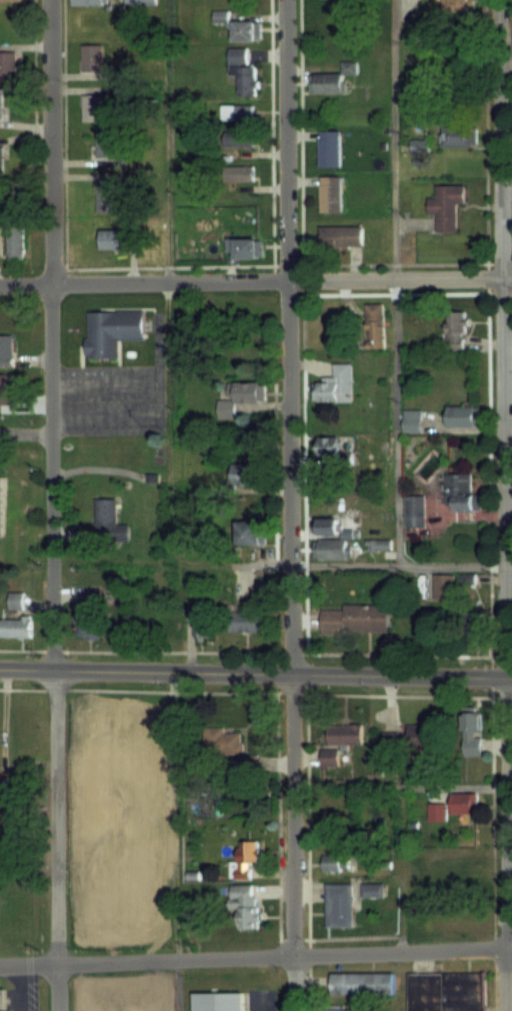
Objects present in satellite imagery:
building: (10, 0)
building: (141, 1)
building: (87, 2)
building: (457, 6)
building: (220, 16)
building: (247, 29)
building: (92, 57)
building: (7, 64)
building: (244, 70)
building: (326, 82)
road: (32, 85)
building: (1, 102)
building: (93, 107)
building: (237, 112)
road: (270, 132)
building: (454, 134)
building: (107, 140)
building: (330, 147)
building: (2, 153)
building: (241, 166)
building: (331, 193)
building: (108, 195)
building: (448, 205)
building: (342, 235)
building: (15, 237)
building: (114, 238)
building: (246, 247)
road: (153, 266)
road: (255, 280)
road: (396, 282)
building: (375, 324)
road: (299, 326)
road: (485, 327)
building: (109, 329)
building: (457, 329)
building: (6, 349)
building: (336, 384)
building: (6, 389)
parking lot: (112, 394)
building: (240, 398)
road: (159, 399)
building: (464, 415)
building: (413, 421)
road: (26, 433)
building: (329, 445)
road: (169, 451)
building: (249, 473)
building: (324, 480)
building: (462, 492)
building: (0, 494)
road: (52, 505)
road: (288, 505)
road: (503, 505)
building: (415, 510)
building: (109, 520)
building: (252, 532)
building: (334, 538)
building: (468, 582)
building: (16, 599)
building: (89, 614)
building: (357, 618)
building: (243, 621)
building: (473, 624)
building: (205, 625)
building: (16, 627)
road: (256, 652)
road: (255, 673)
road: (256, 690)
building: (472, 730)
building: (345, 734)
building: (410, 738)
building: (230, 746)
building: (329, 756)
road: (403, 786)
building: (125, 791)
building: (465, 802)
building: (437, 811)
road: (176, 841)
building: (244, 859)
building: (337, 860)
road: (402, 869)
building: (374, 889)
building: (339, 904)
building: (245, 906)
road: (255, 956)
building: (363, 983)
road: (22, 987)
building: (448, 991)
building: (2, 1000)
building: (219, 1001)
building: (345, 1010)

